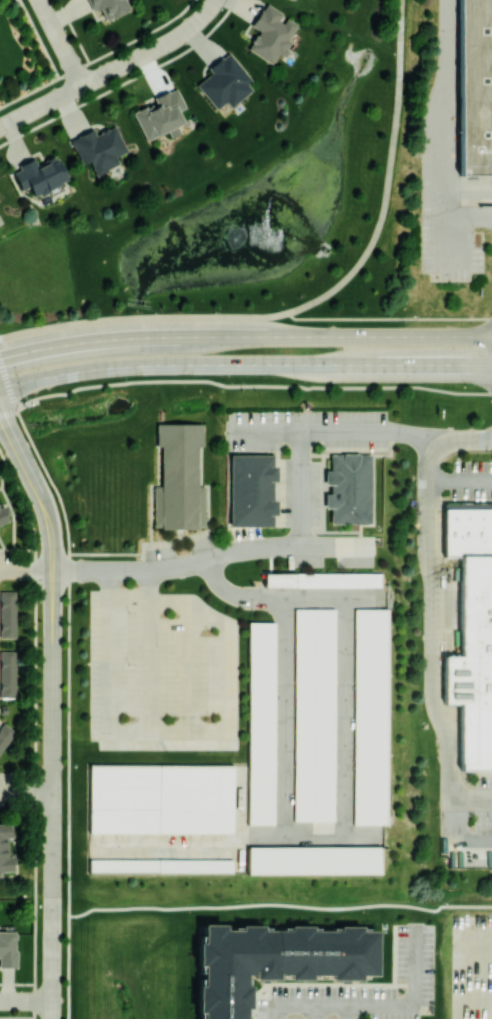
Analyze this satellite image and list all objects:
building: (109, 7)
building: (270, 33)
road: (61, 43)
road: (113, 70)
building: (224, 82)
building: (475, 86)
building: (160, 115)
road: (451, 129)
building: (98, 148)
building: (39, 175)
road: (386, 179)
road: (473, 224)
fountain: (227, 243)
road: (142, 318)
road: (388, 318)
road: (348, 336)
road: (102, 340)
road: (244, 365)
road: (242, 385)
road: (335, 434)
building: (183, 477)
road: (460, 484)
road: (298, 490)
building: (353, 491)
building: (253, 494)
building: (2, 513)
building: (468, 529)
road: (185, 564)
building: (325, 582)
road: (284, 596)
building: (7, 614)
road: (434, 637)
road: (149, 649)
building: (474, 663)
road: (190, 667)
building: (7, 673)
road: (68, 682)
road: (52, 712)
building: (315, 712)
road: (283, 716)
road: (345, 716)
building: (373, 716)
building: (261, 723)
road: (185, 729)
building: (5, 734)
road: (26, 792)
road: (472, 795)
building: (161, 798)
road: (237, 837)
building: (5, 847)
building: (316, 859)
building: (159, 865)
road: (281, 905)
building: (7, 948)
building: (273, 961)
road: (487, 996)
road: (26, 1001)
road: (376, 1003)
road: (312, 1011)
road: (347, 1011)

